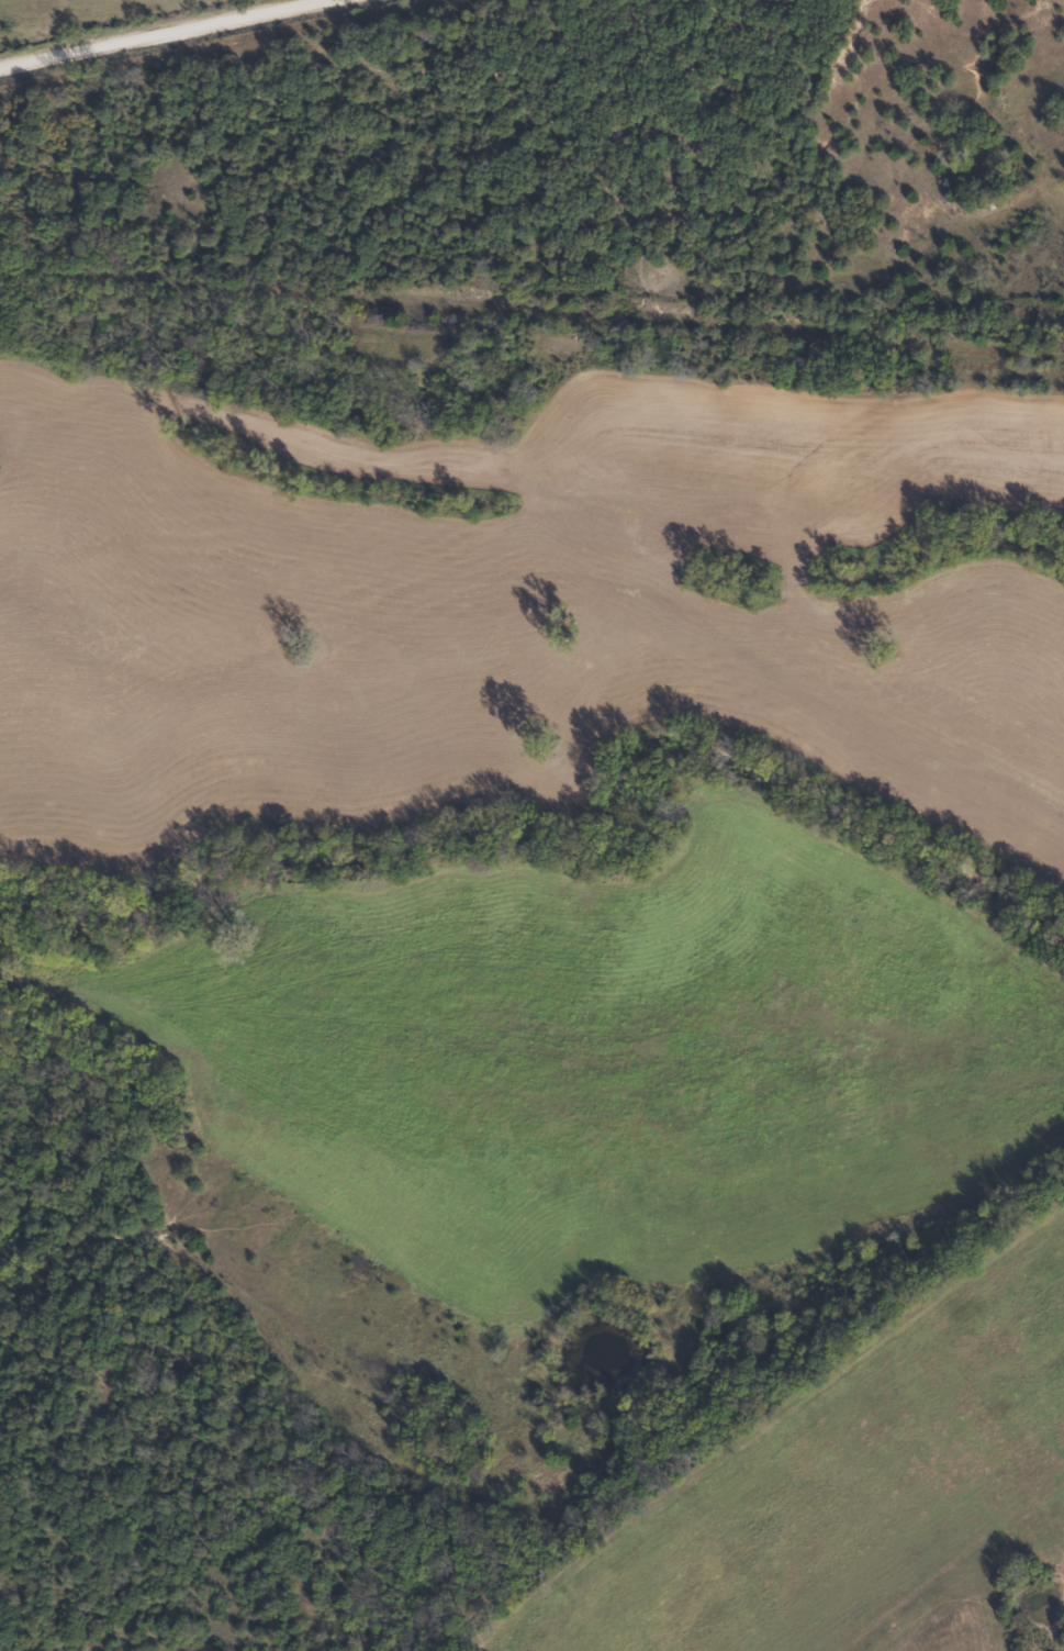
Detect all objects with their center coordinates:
road: (134, 25)
railway: (531, 289)

